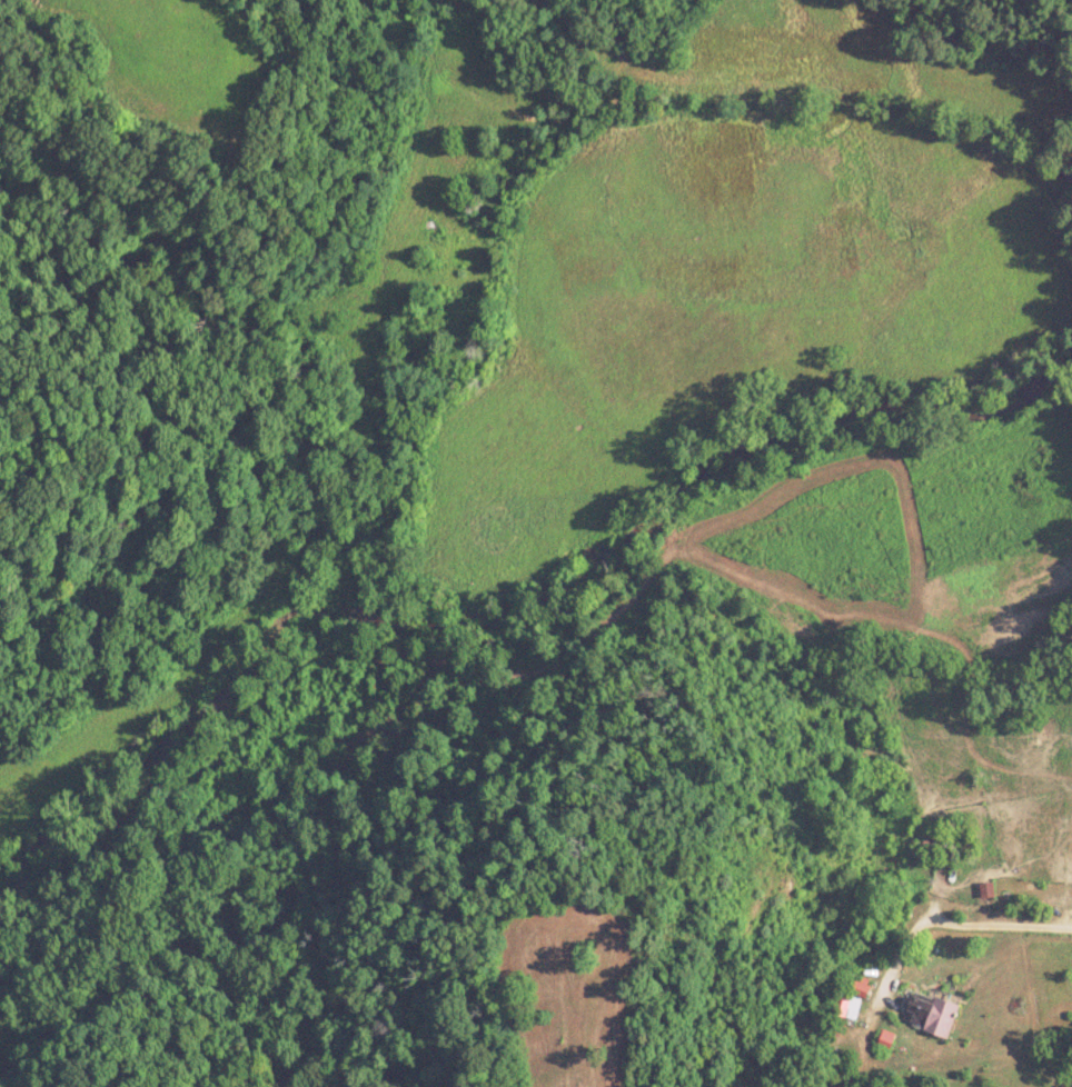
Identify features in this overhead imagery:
building: (943, 845)
road: (897, 940)
building: (931, 1017)

